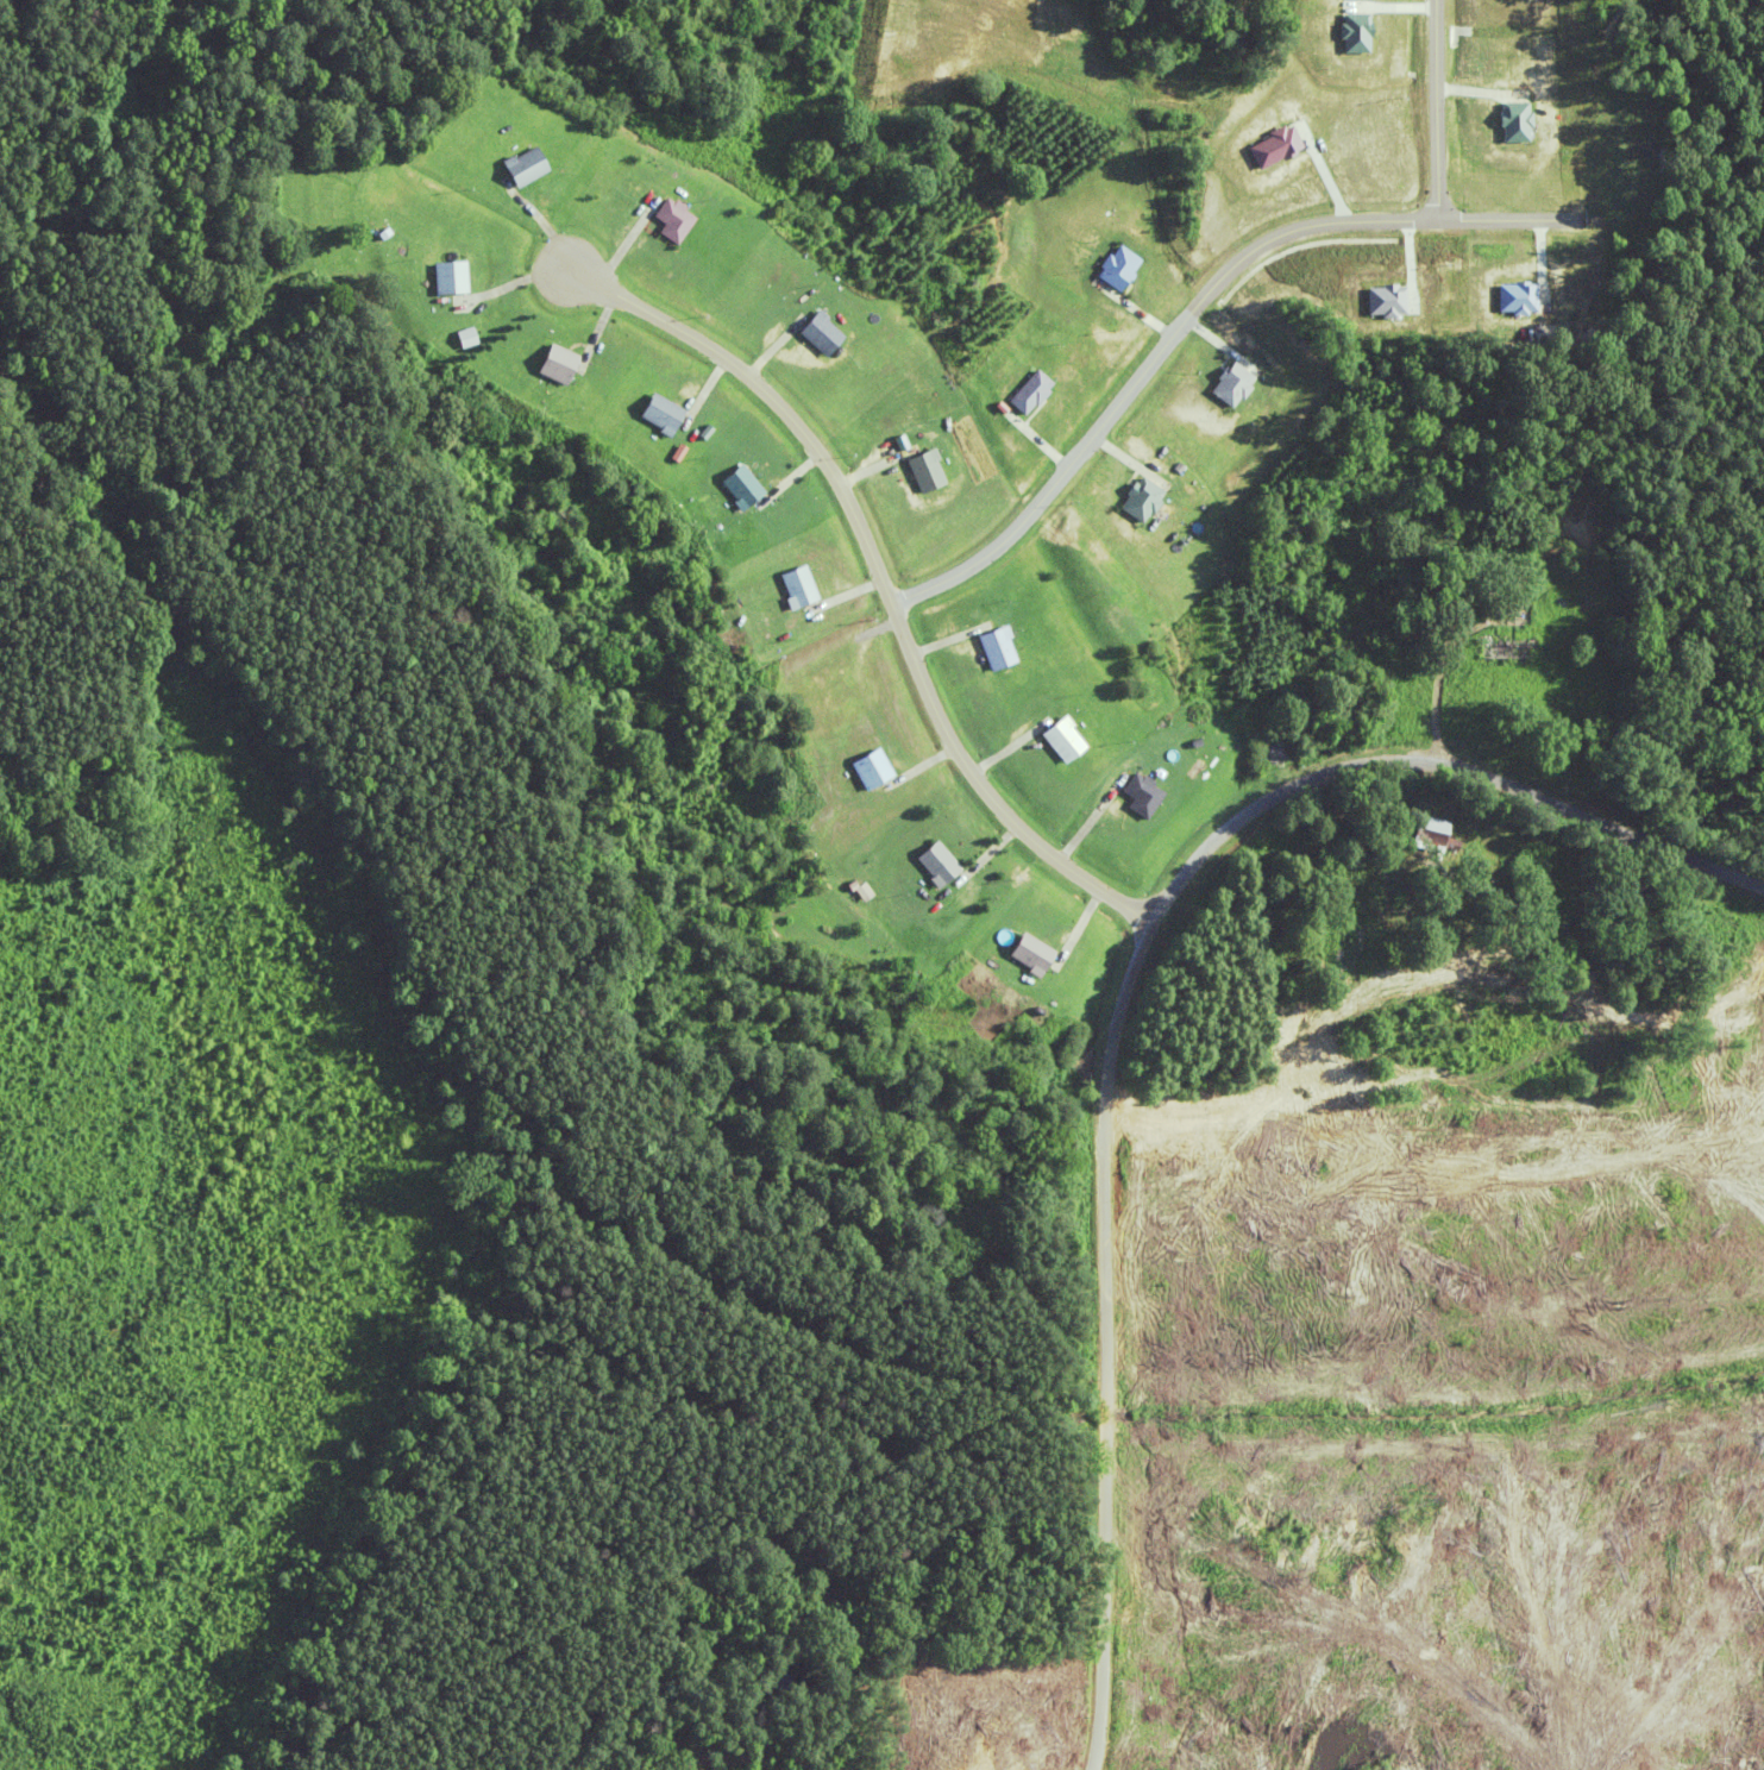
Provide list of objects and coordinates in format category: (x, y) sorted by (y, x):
building: (1356, 36)
building: (1518, 125)
building: (1269, 150)
building: (508, 167)
building: (525, 171)
building: (670, 222)
building: (1118, 271)
building: (446, 280)
road: (1212, 287)
building: (1515, 300)
building: (1385, 303)
building: (822, 335)
building: (447, 338)
building: (554, 366)
building: (1231, 387)
building: (1034, 393)
building: (661, 421)
building: (924, 476)
building: (742, 490)
building: (1141, 506)
road: (879, 576)
building: (798, 591)
building: (1498, 647)
building: (999, 653)
building: (1063, 743)
building: (873, 773)
building: (1141, 797)
building: (1424, 834)
building: (939, 868)
building: (1031, 959)
road: (1117, 992)

